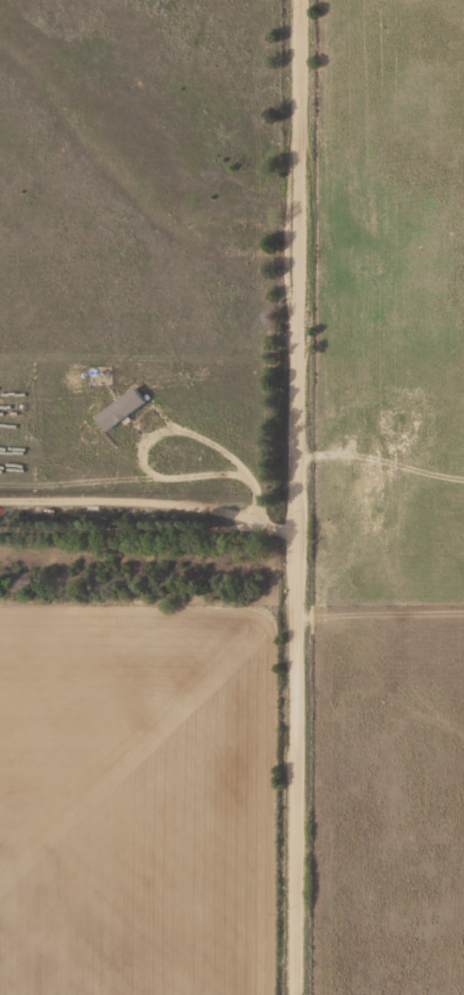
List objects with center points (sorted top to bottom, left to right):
building: (331, 486)
road: (304, 497)
road: (152, 508)

